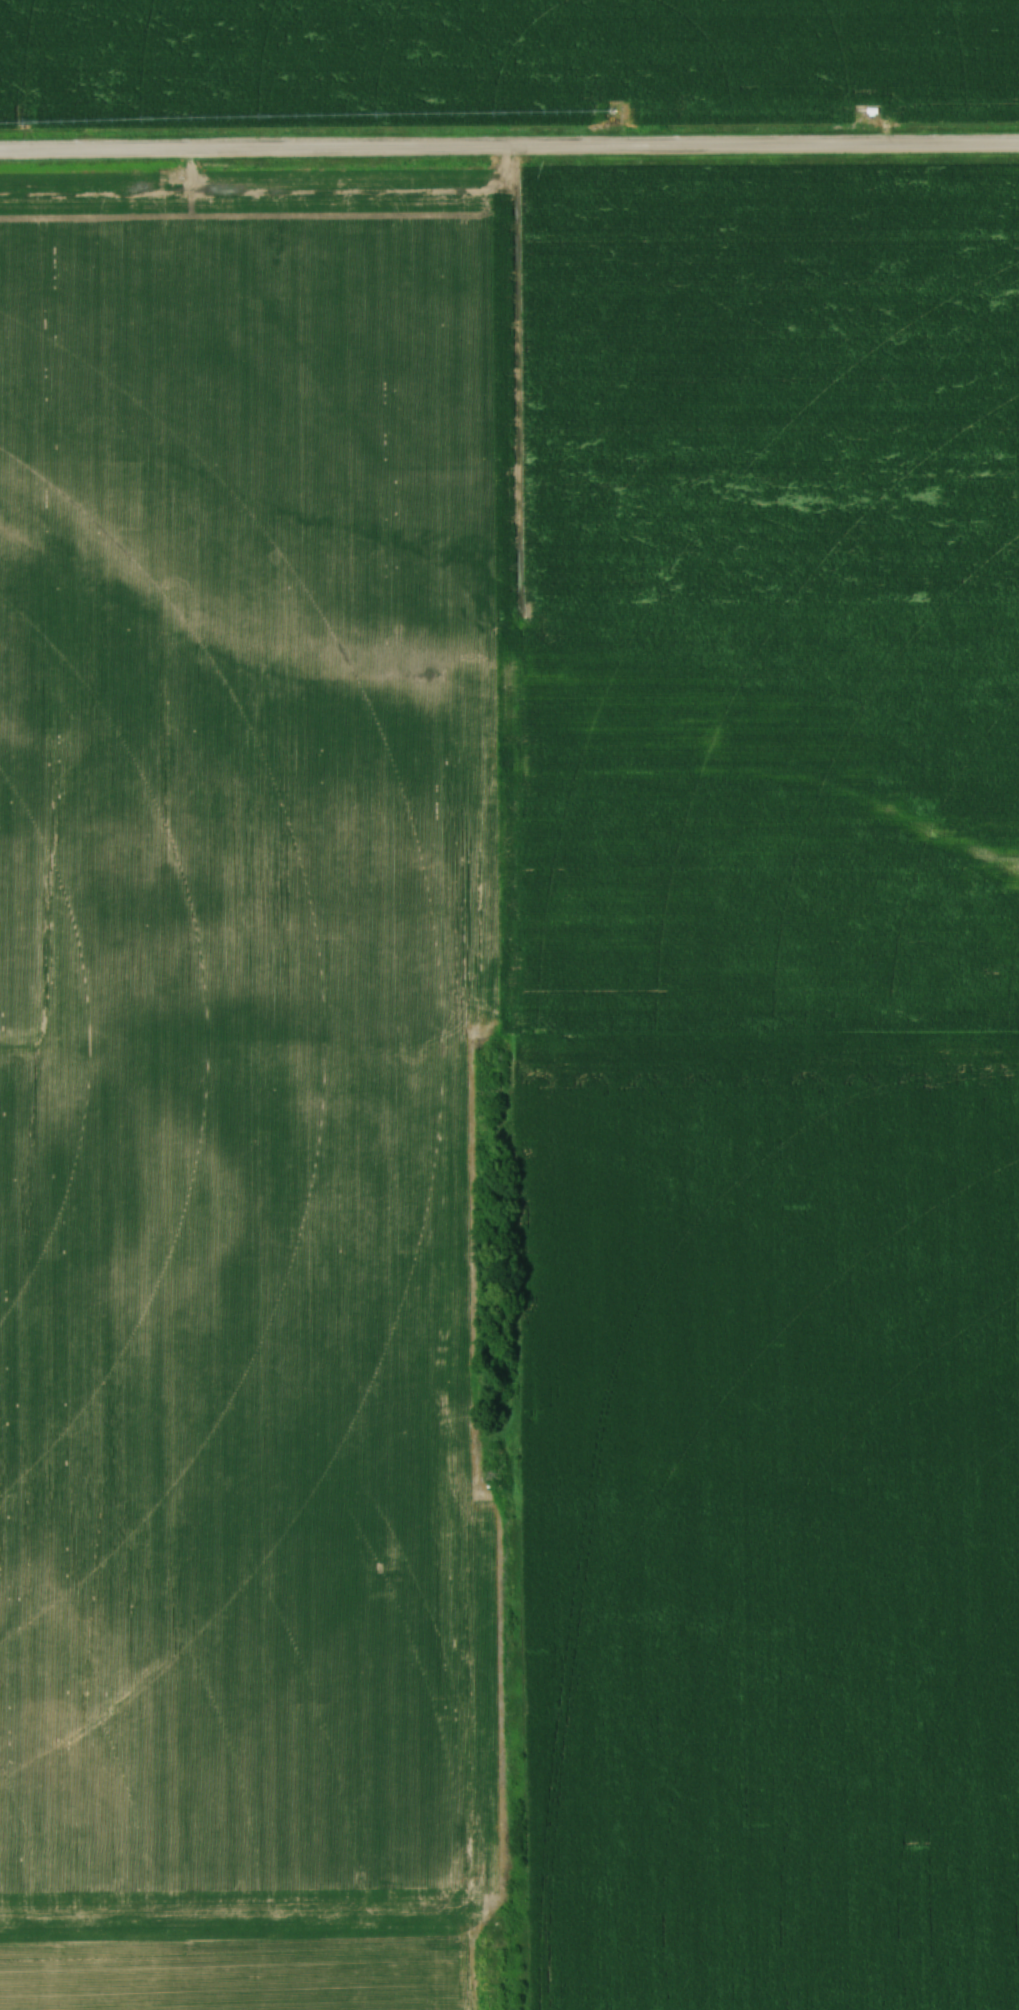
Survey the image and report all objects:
road: (509, 149)

